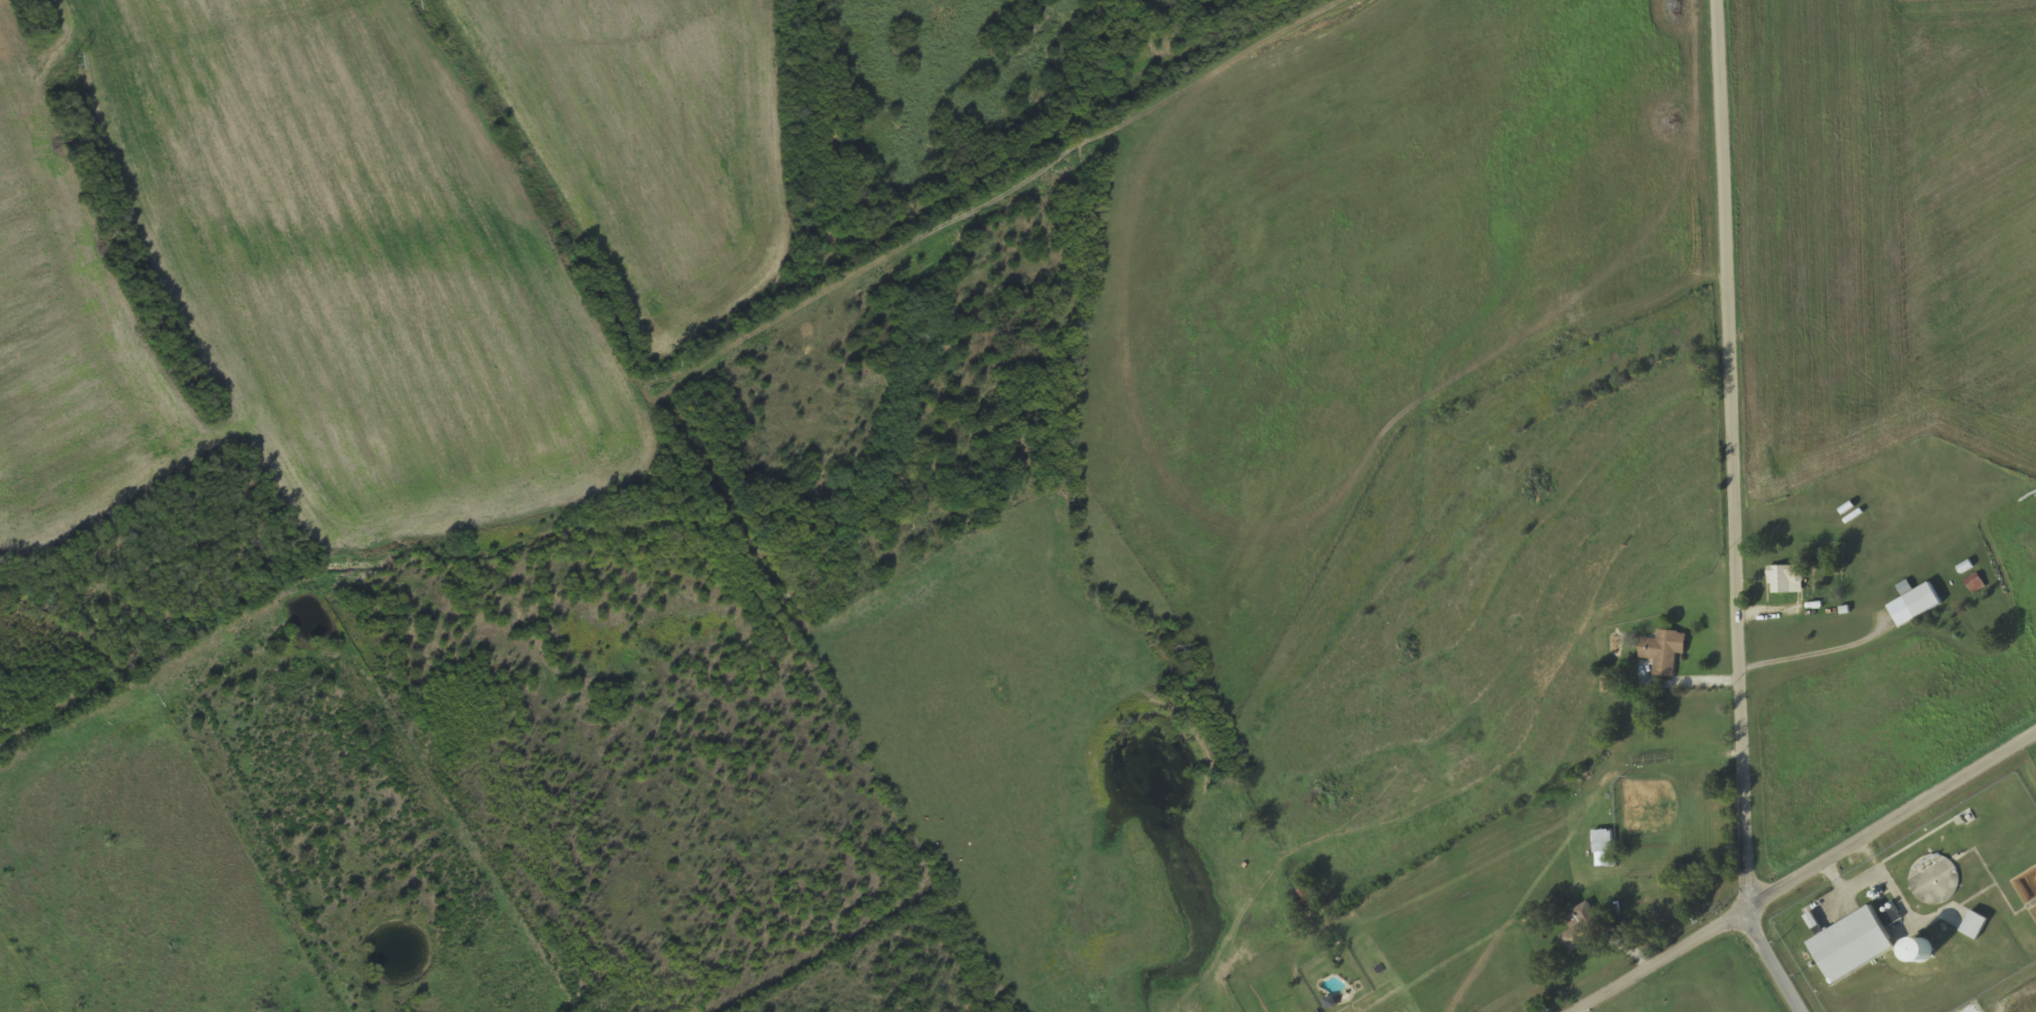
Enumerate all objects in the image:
power tower: (76, 60)
road: (1734, 514)
building: (1786, 579)
building: (1975, 582)
building: (1915, 605)
building: (1664, 653)
building: (1610, 685)
road: (1891, 822)
building: (1604, 849)
building: (1920, 885)
building: (1974, 926)
building: (1586, 927)
building: (1852, 946)
building: (1920, 953)
road: (1659, 960)

